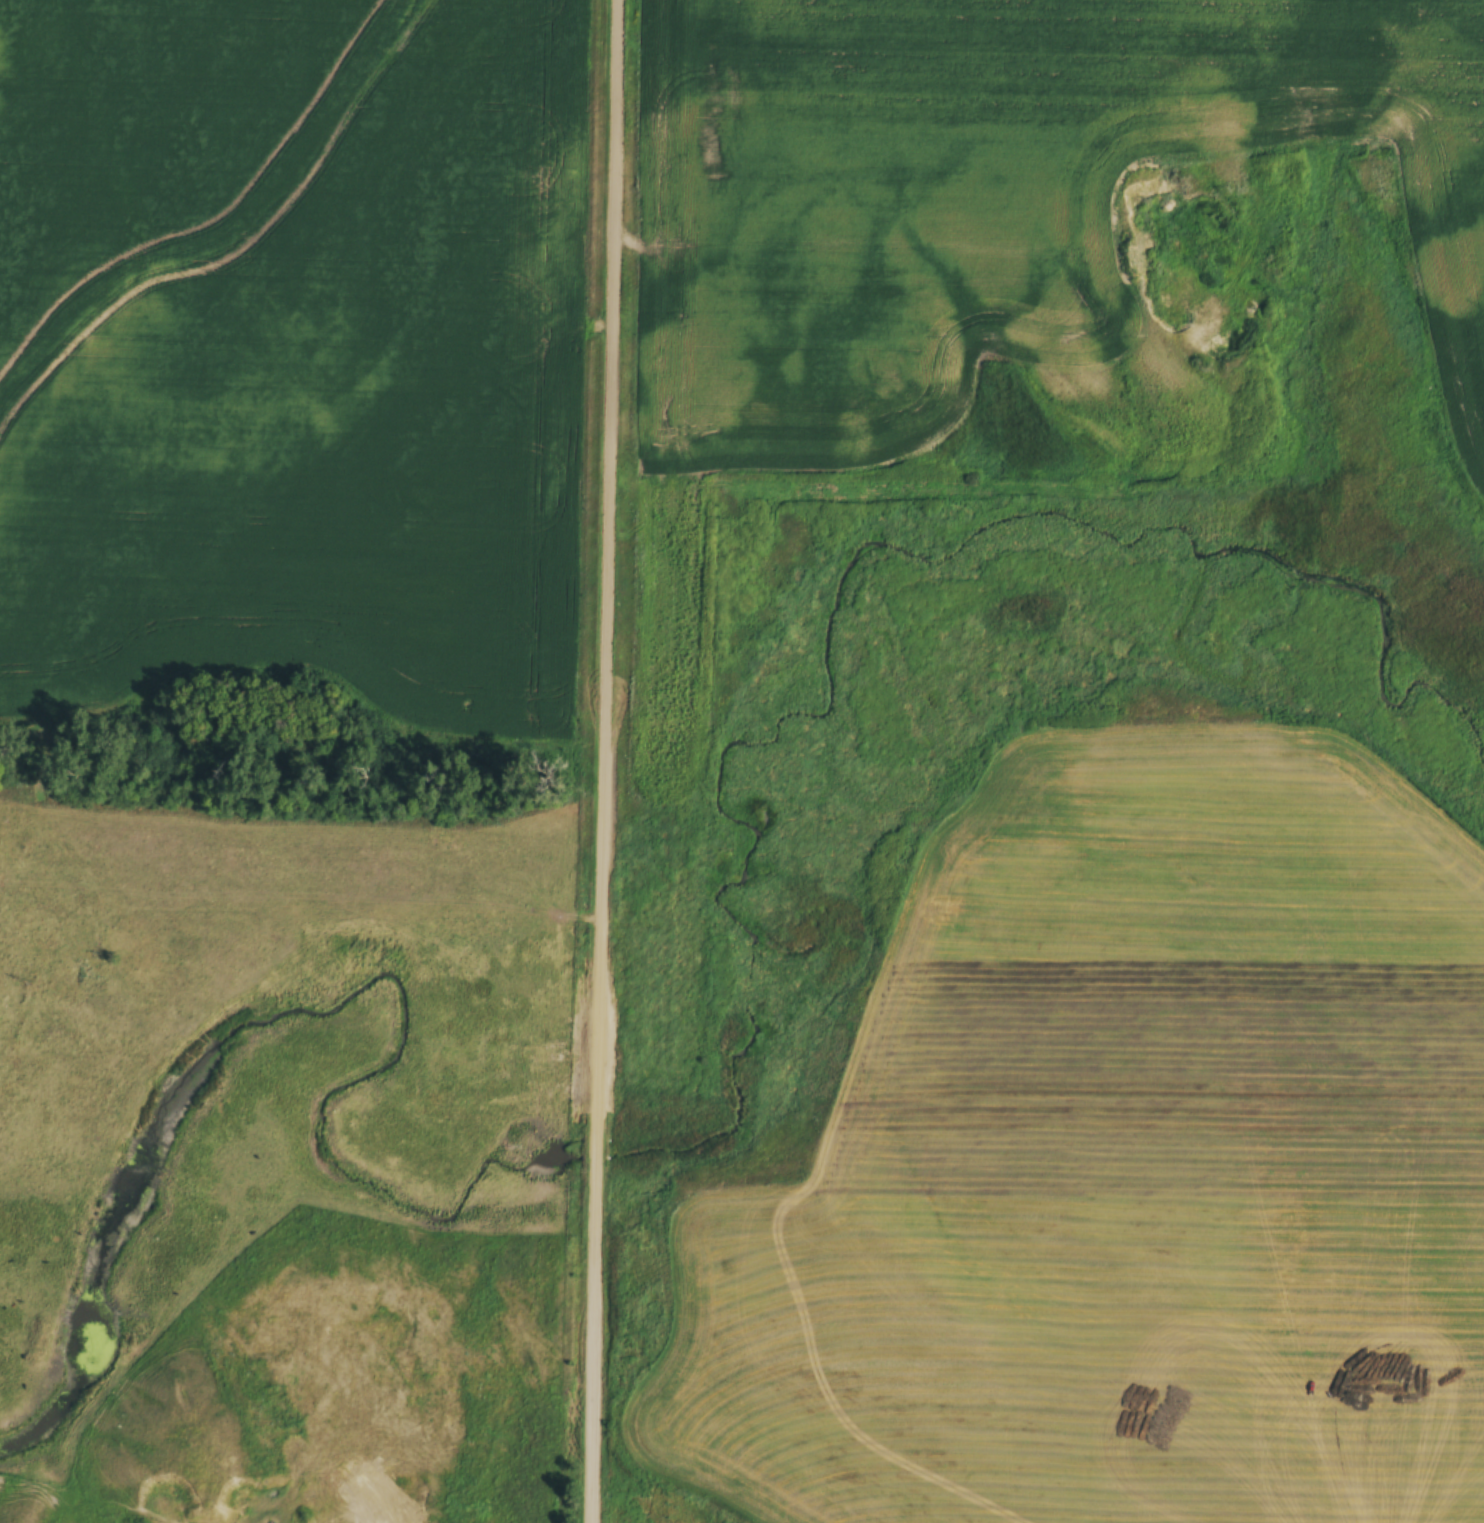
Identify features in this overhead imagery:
road: (710, 761)

